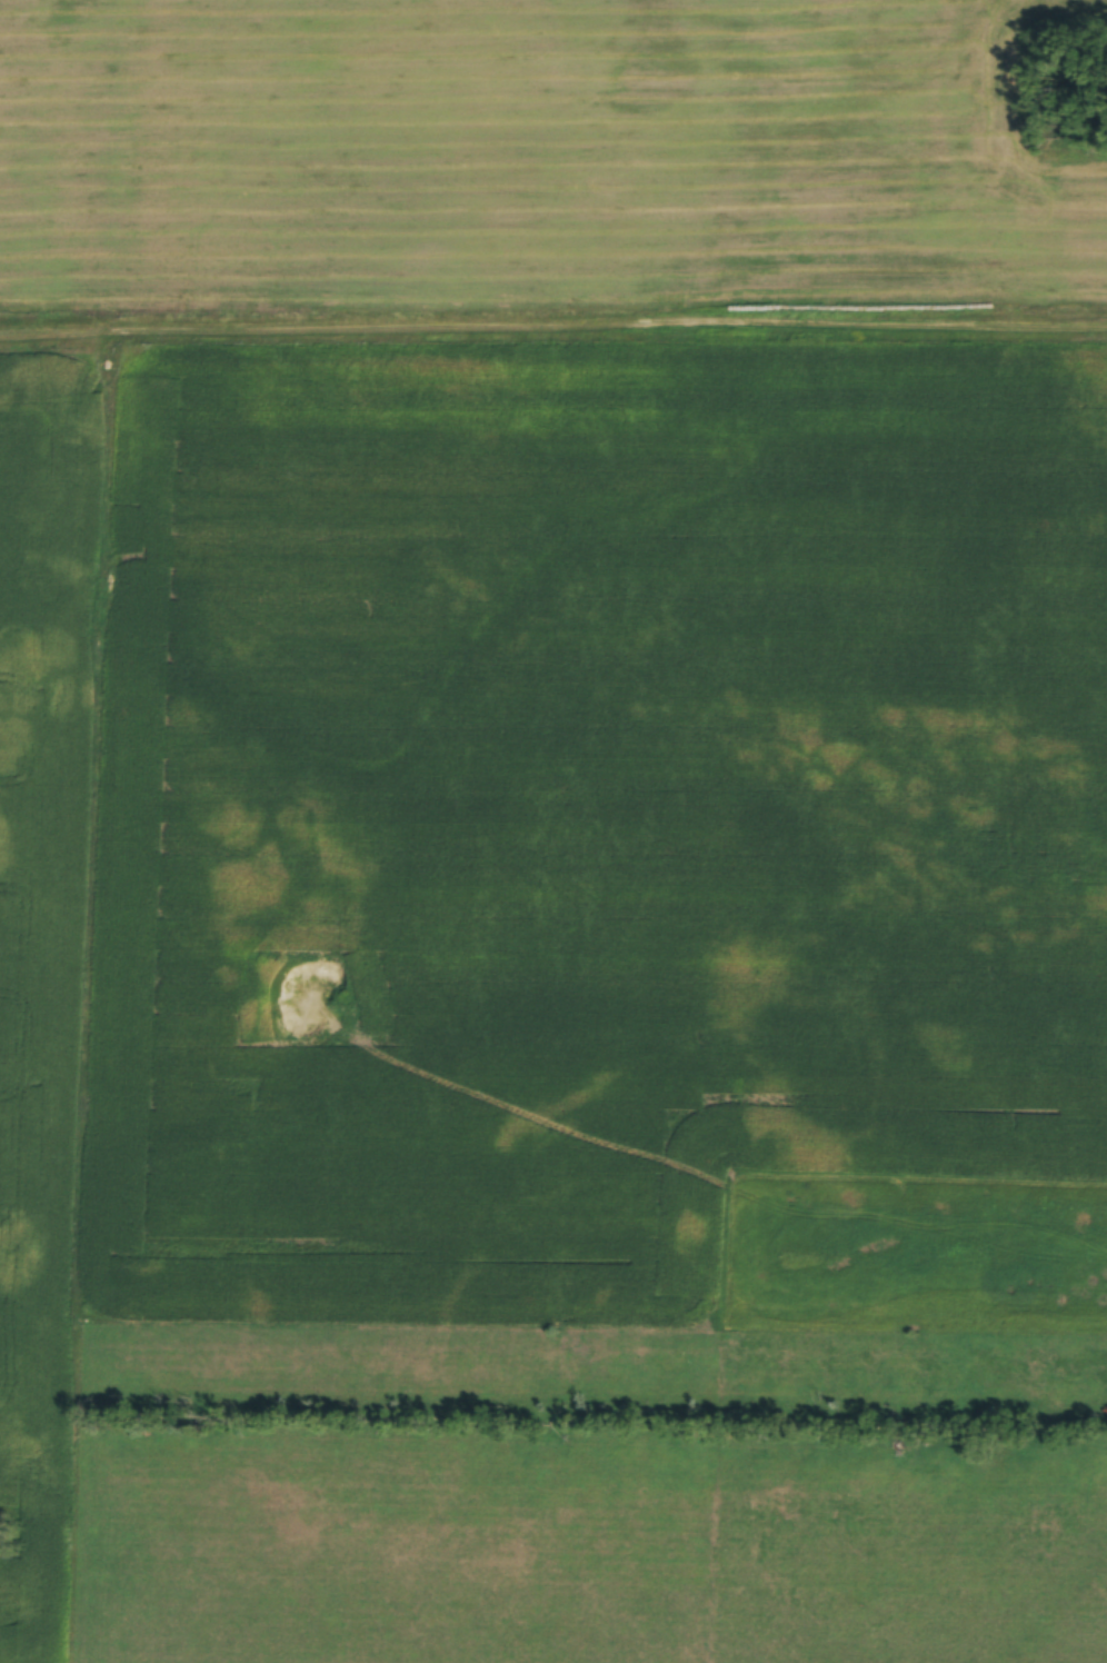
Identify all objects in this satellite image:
road: (552, 326)

